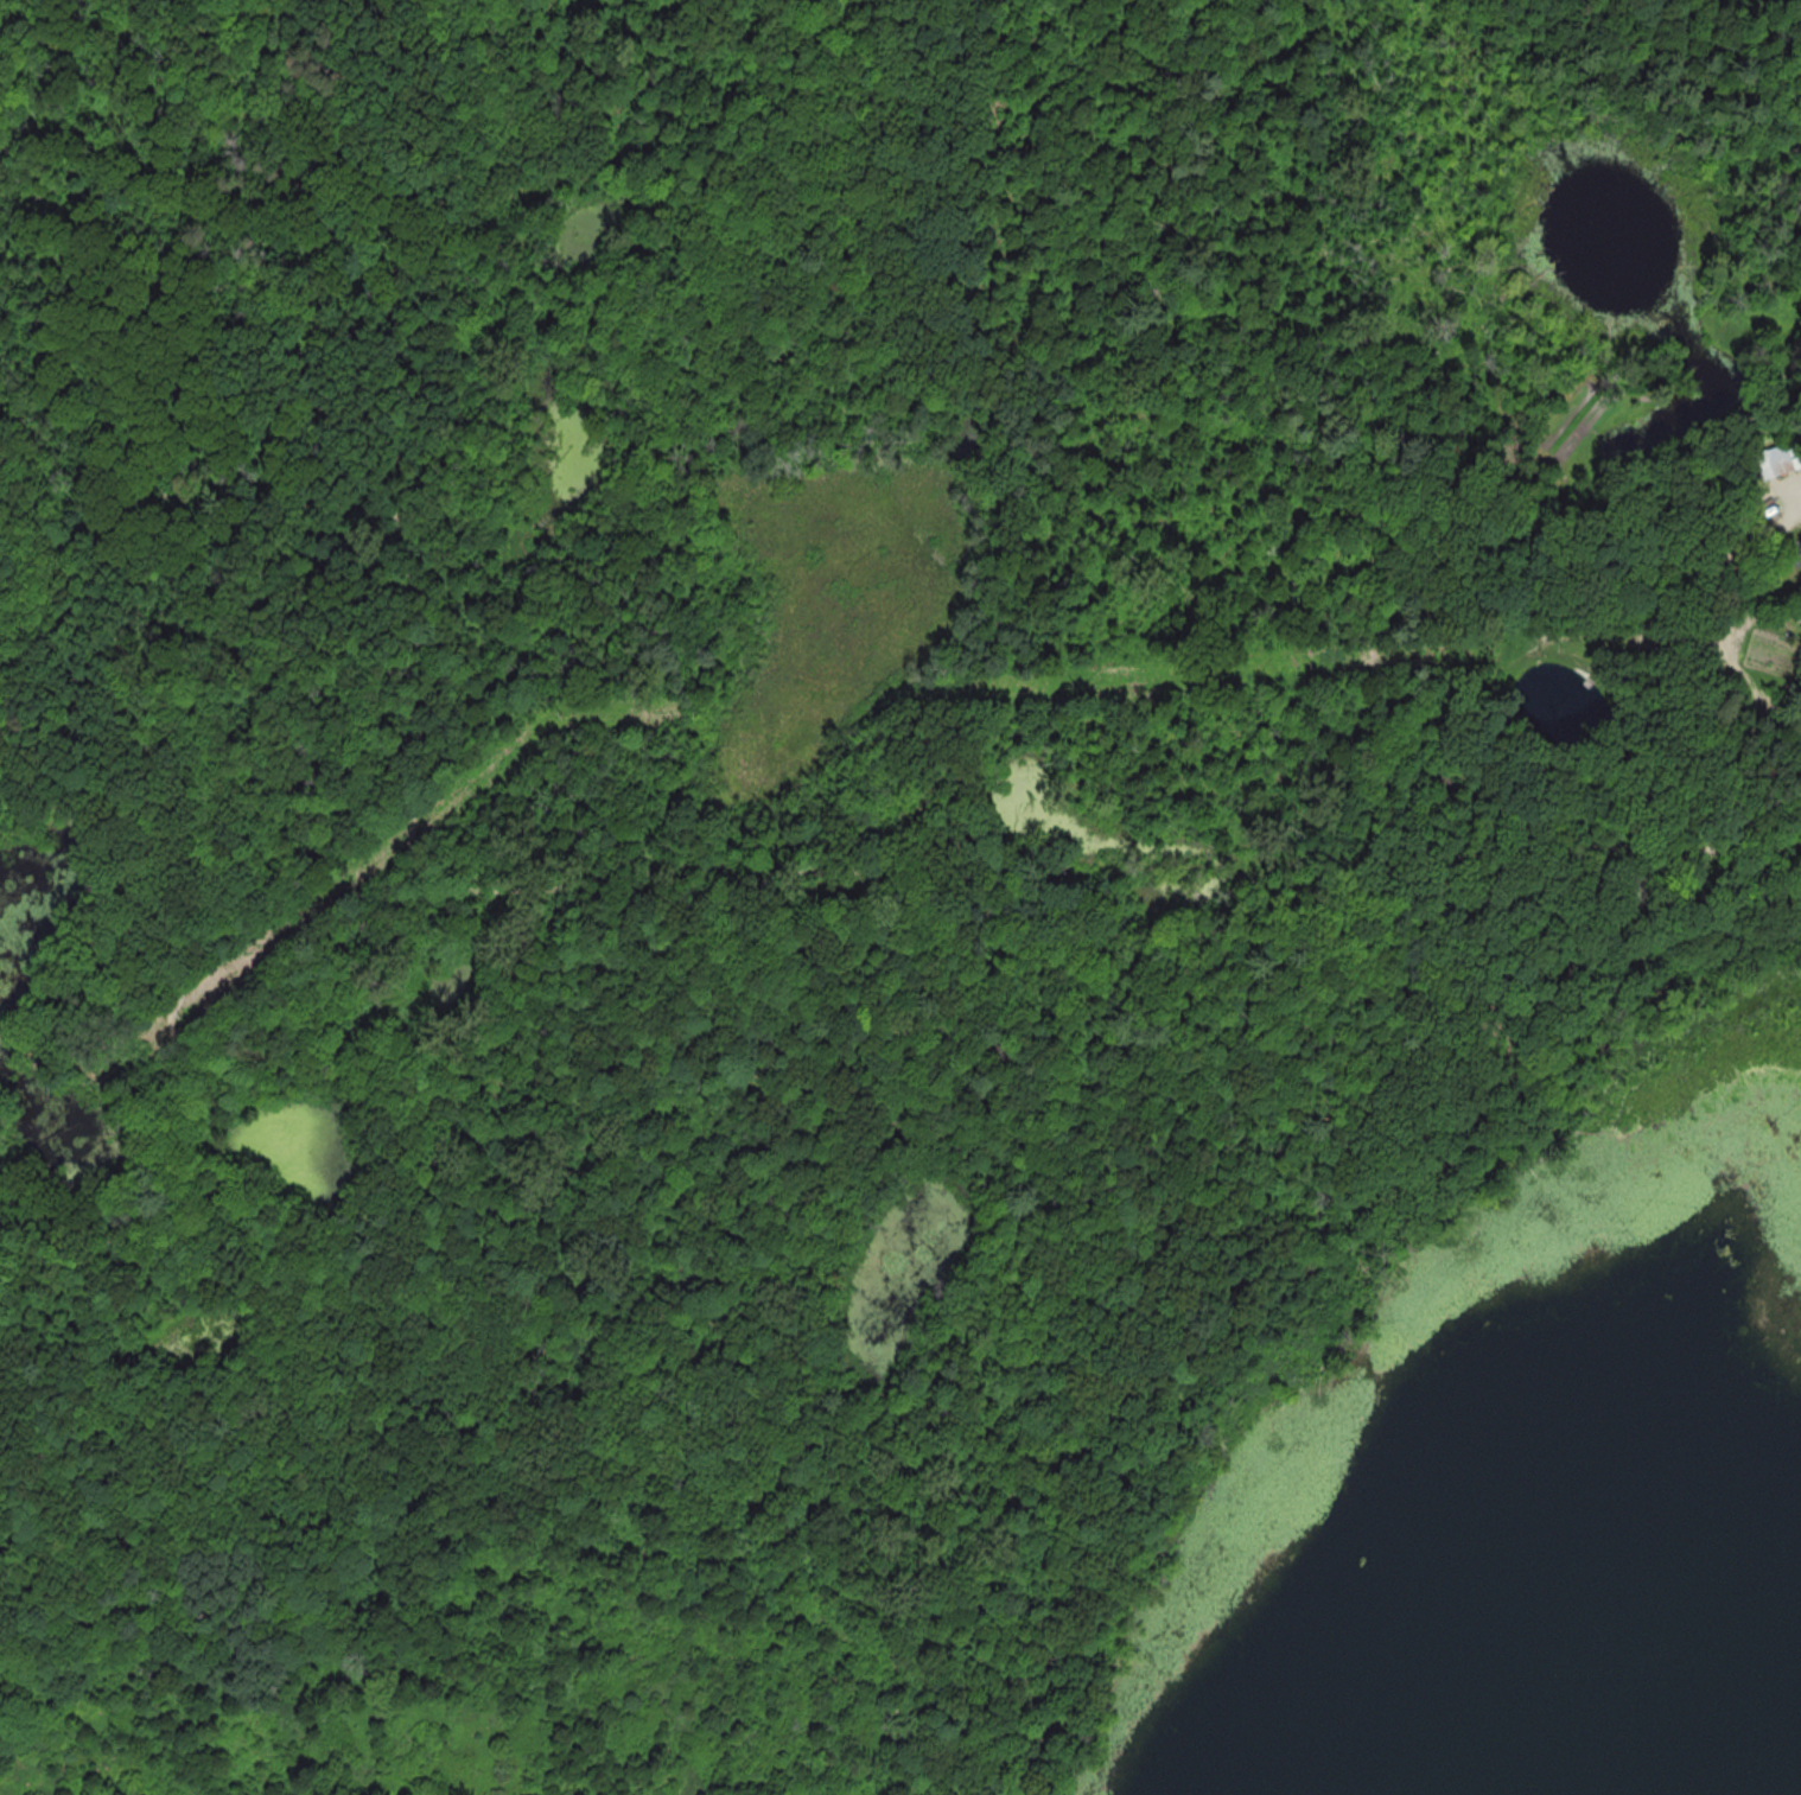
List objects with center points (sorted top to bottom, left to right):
road: (406, 453)
building: (1778, 459)
park: (789, 829)
road: (1131, 864)

